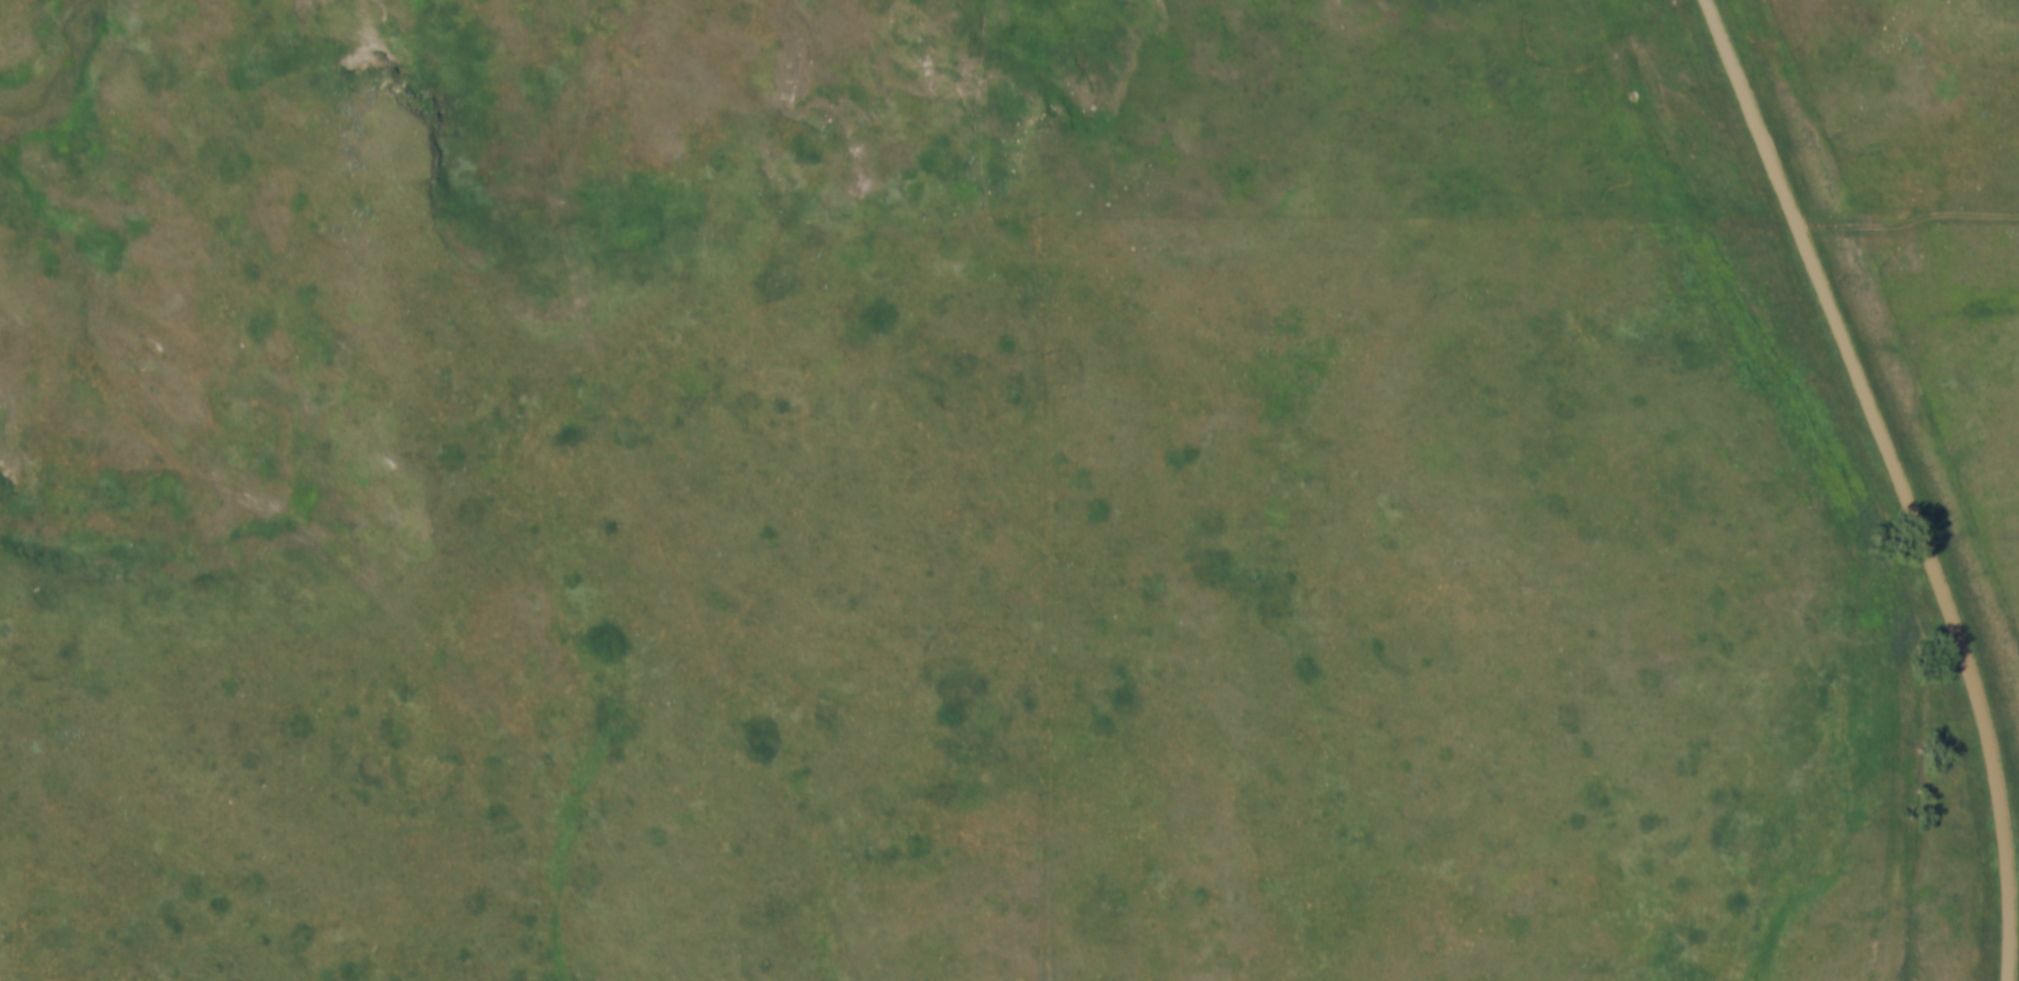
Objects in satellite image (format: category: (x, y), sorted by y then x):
road: (1753, 112)
road: (1908, 222)
road: (1942, 593)

